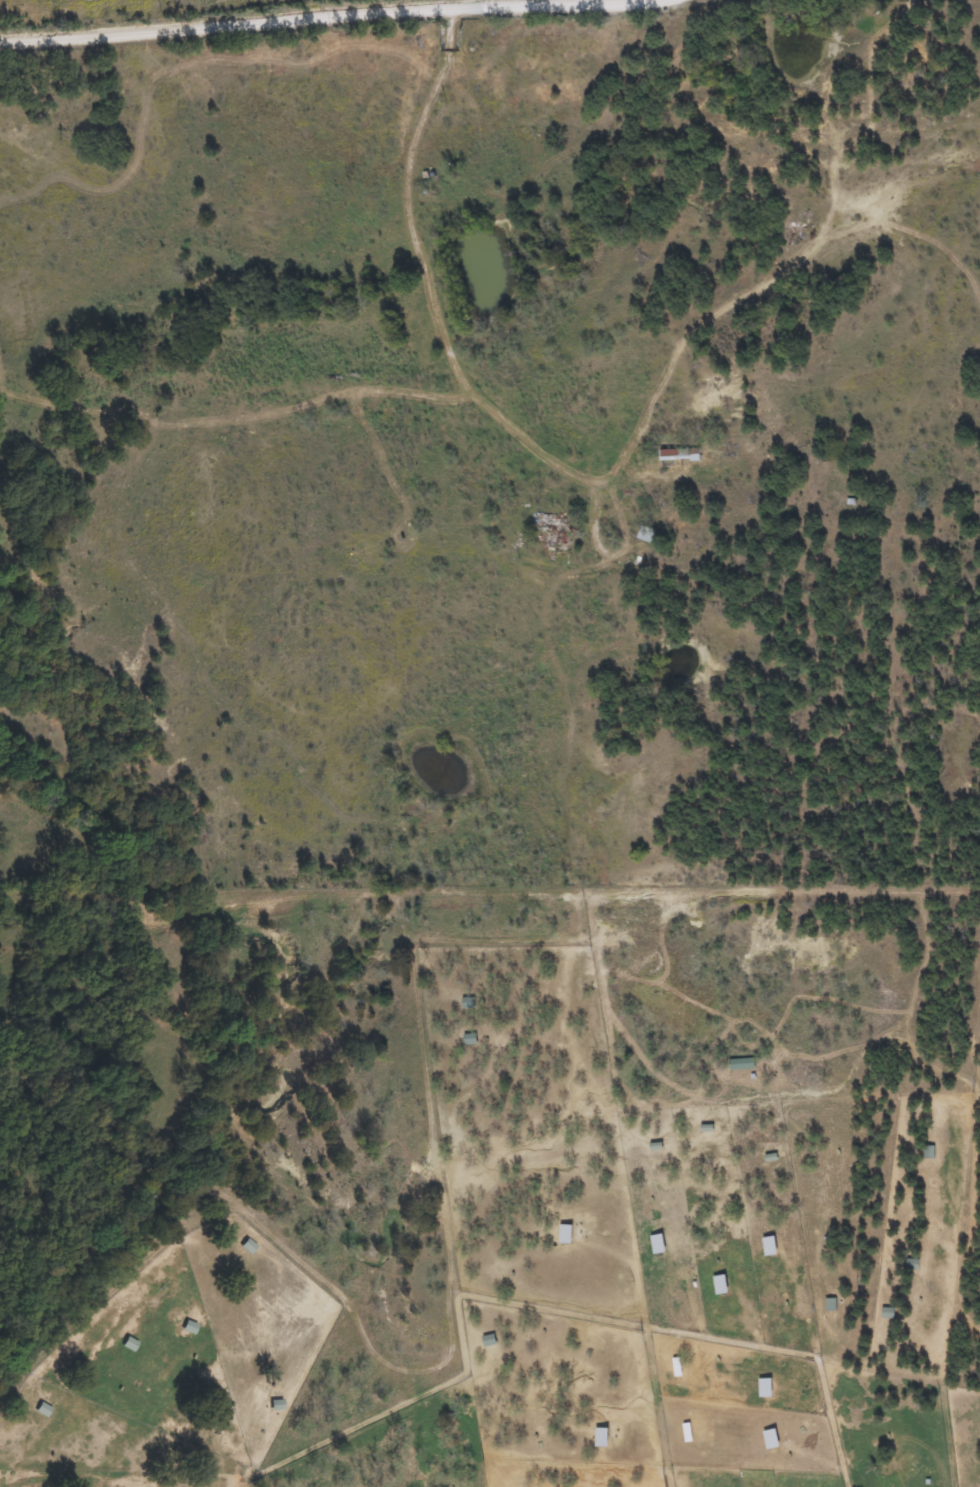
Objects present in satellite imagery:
road: (316, 31)
building: (678, 454)
building: (543, 520)
building: (645, 533)
building: (563, 1233)
building: (655, 1243)
building: (767, 1245)
building: (248, 1246)
building: (717, 1284)
building: (129, 1344)
building: (762, 1387)
road: (654, 1408)
building: (44, 1410)
building: (600, 1436)
building: (769, 1438)

